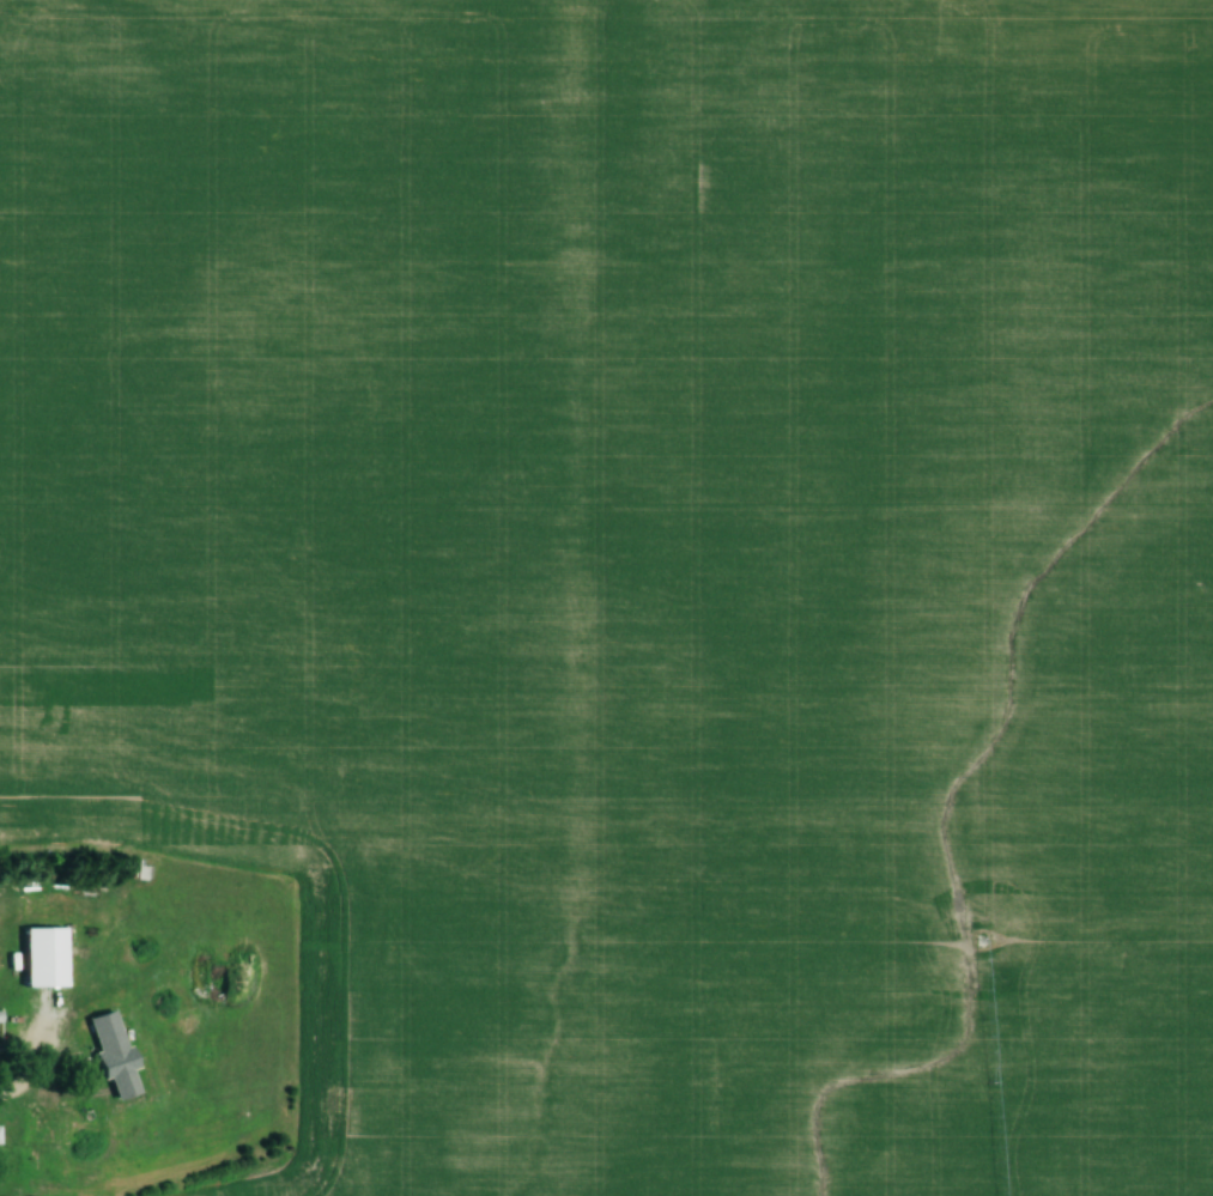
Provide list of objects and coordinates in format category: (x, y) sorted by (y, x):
building: (47, 954)
building: (117, 1030)
building: (0, 1135)
building: (44, 1135)

